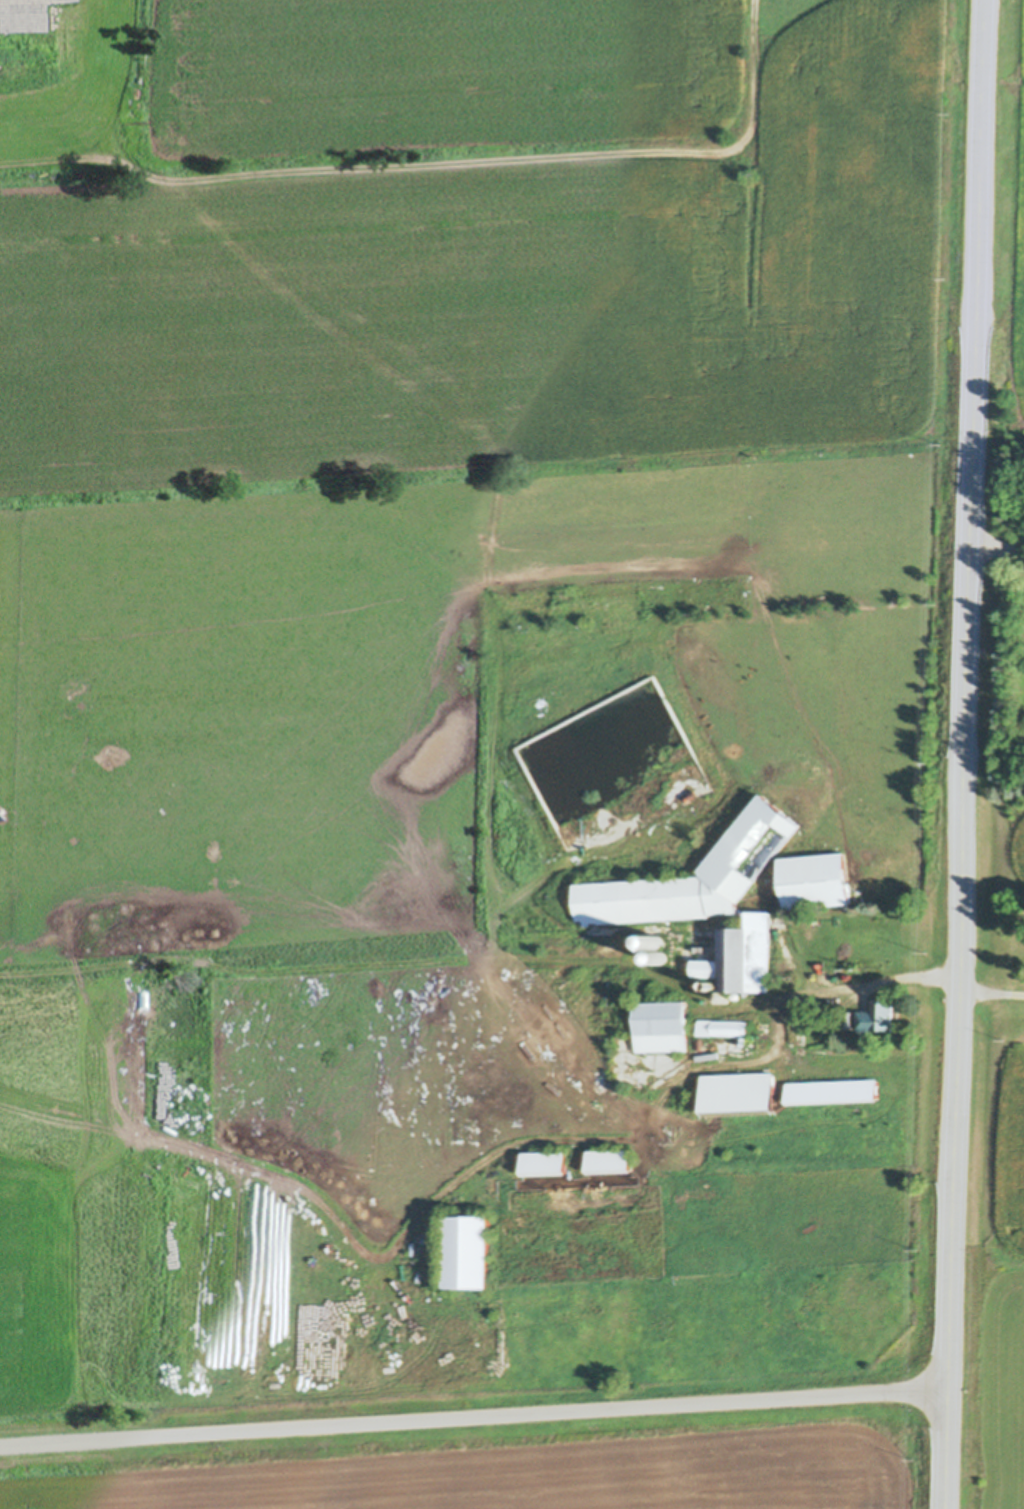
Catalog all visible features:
crop: (1014, 237)
crop: (400, 457)
road: (998, 546)
road: (964, 754)
crop: (1001, 844)
building: (815, 883)
building: (778, 884)
building: (708, 900)
building: (655, 940)
building: (660, 955)
building: (633, 990)
road: (991, 994)
building: (876, 1019)
building: (843, 1020)
building: (820, 1022)
building: (662, 1028)
building: (721, 1028)
building: (760, 1032)
building: (640, 1074)
building: (640, 1084)
building: (833, 1094)
building: (739, 1097)
road: (221, 1146)
building: (610, 1163)
building: (544, 1164)
building: (467, 1256)
crop: (996, 1275)
road: (472, 1415)
crop: (503, 1472)

